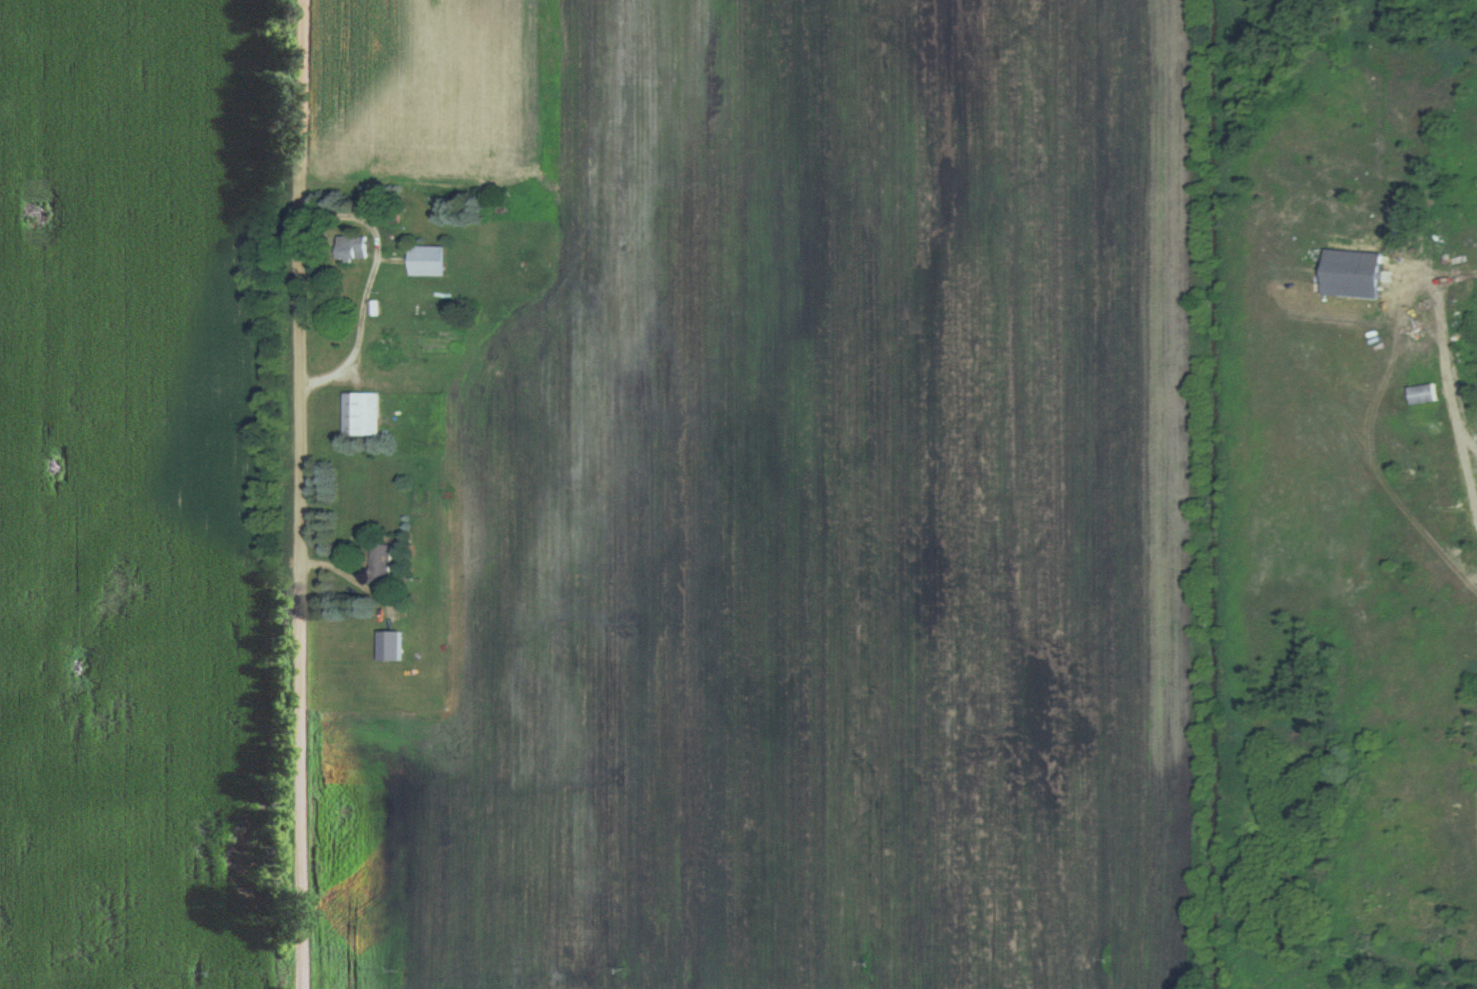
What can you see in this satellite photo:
building: (1393, 227)
building: (354, 247)
building: (430, 261)
building: (1352, 275)
road: (371, 283)
road: (1452, 391)
building: (363, 416)
road: (301, 494)
building: (385, 566)
building: (391, 647)

